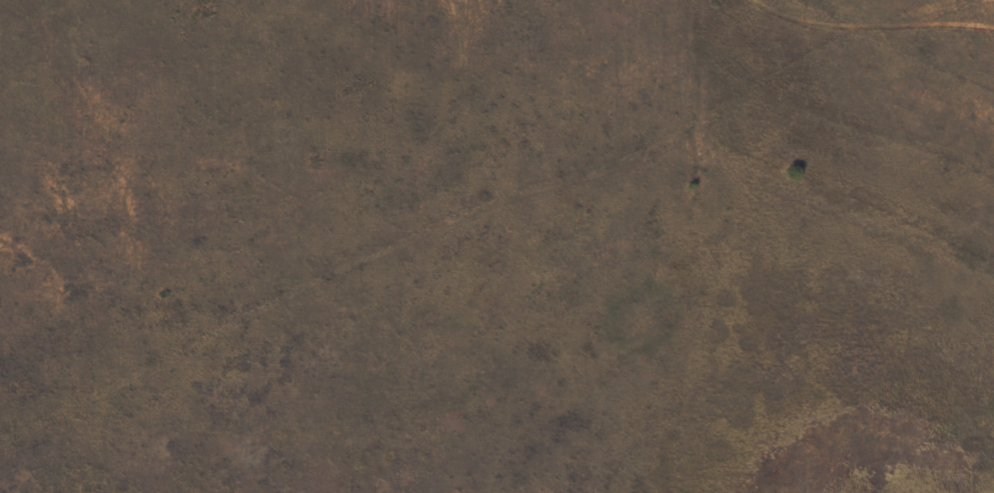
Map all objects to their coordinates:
road: (796, 361)

